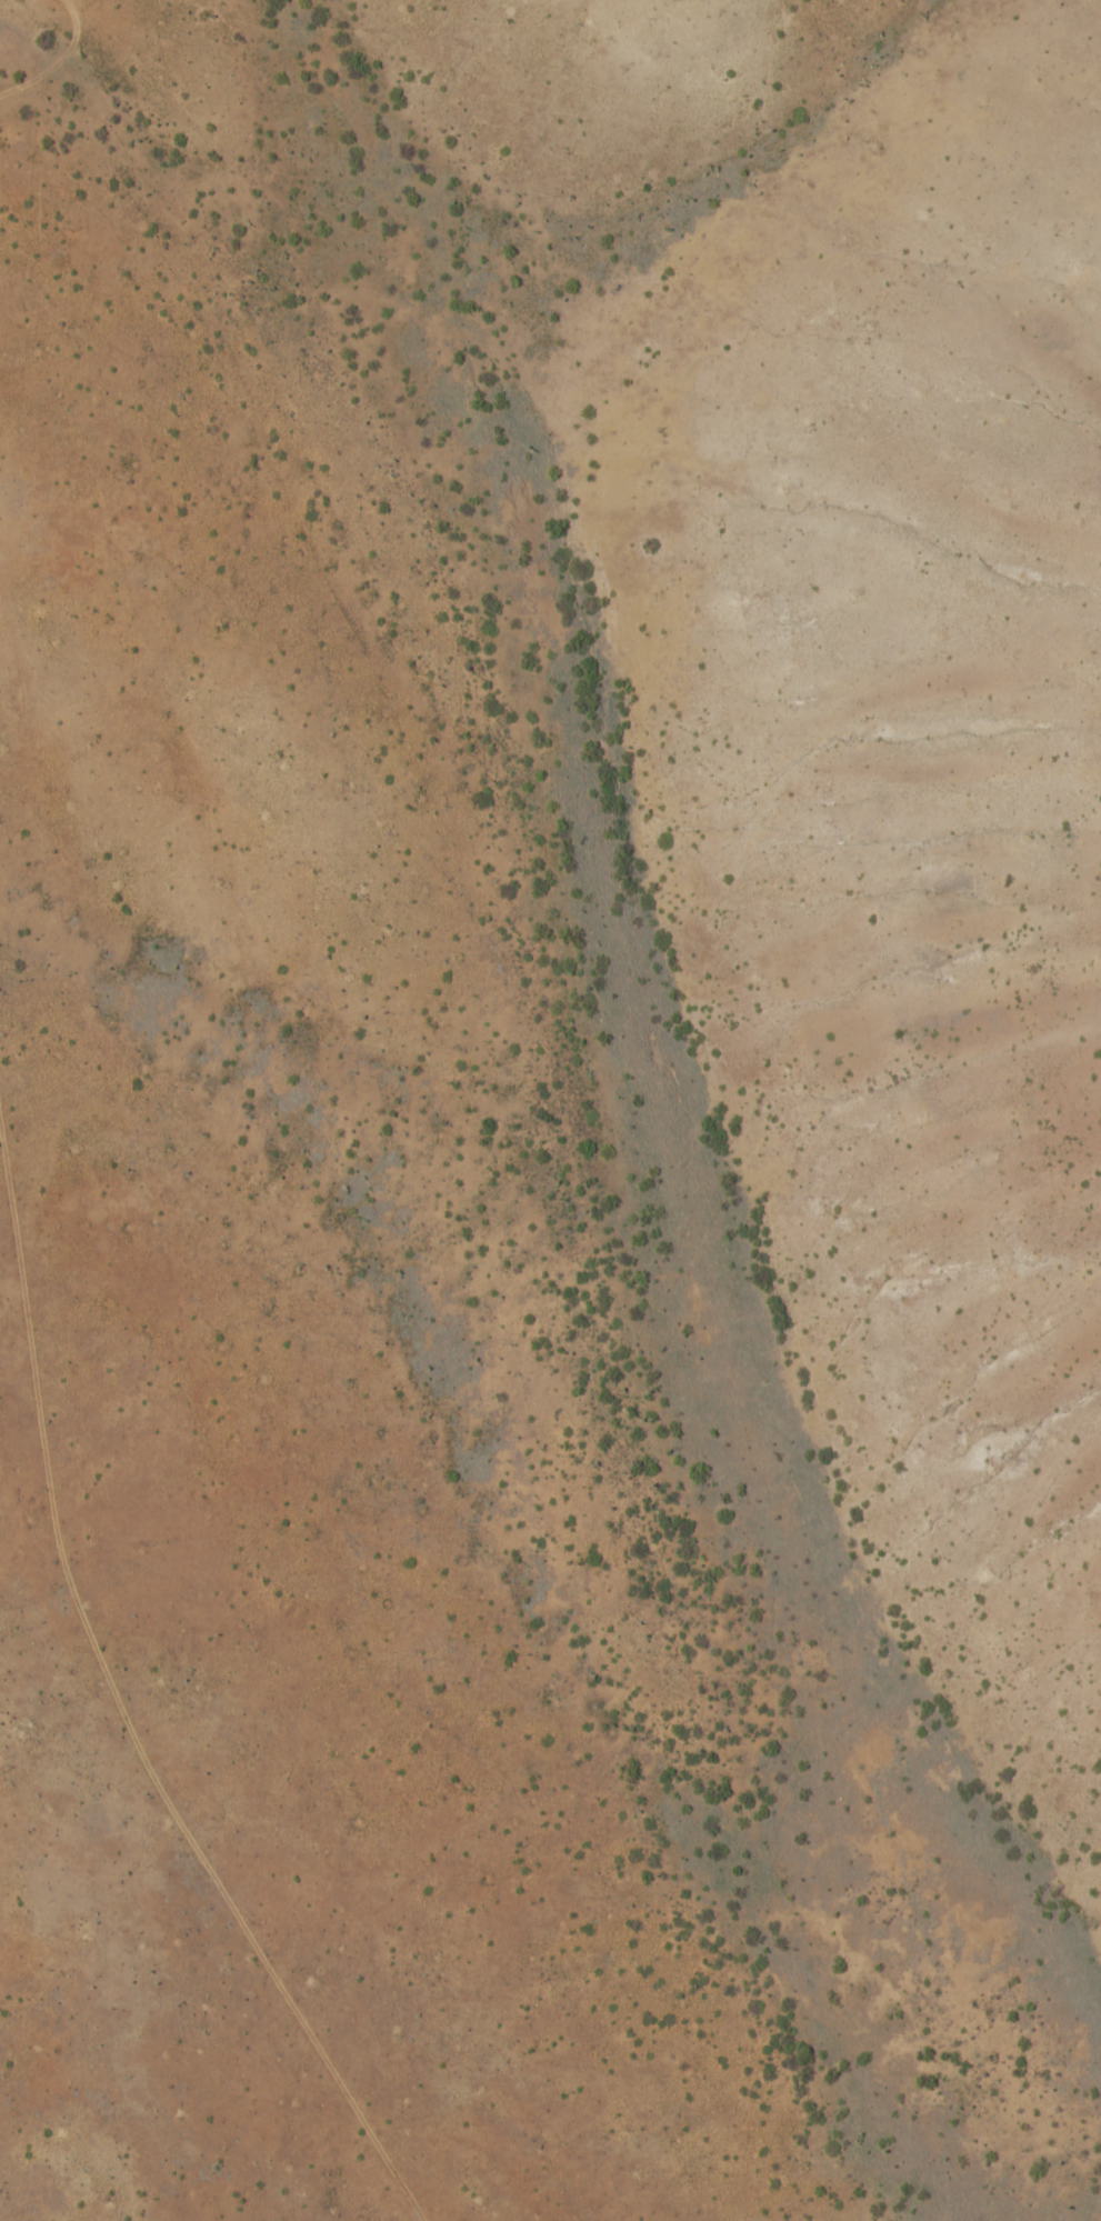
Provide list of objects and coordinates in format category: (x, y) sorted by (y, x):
road: (39, 199)
road: (187, 1753)

